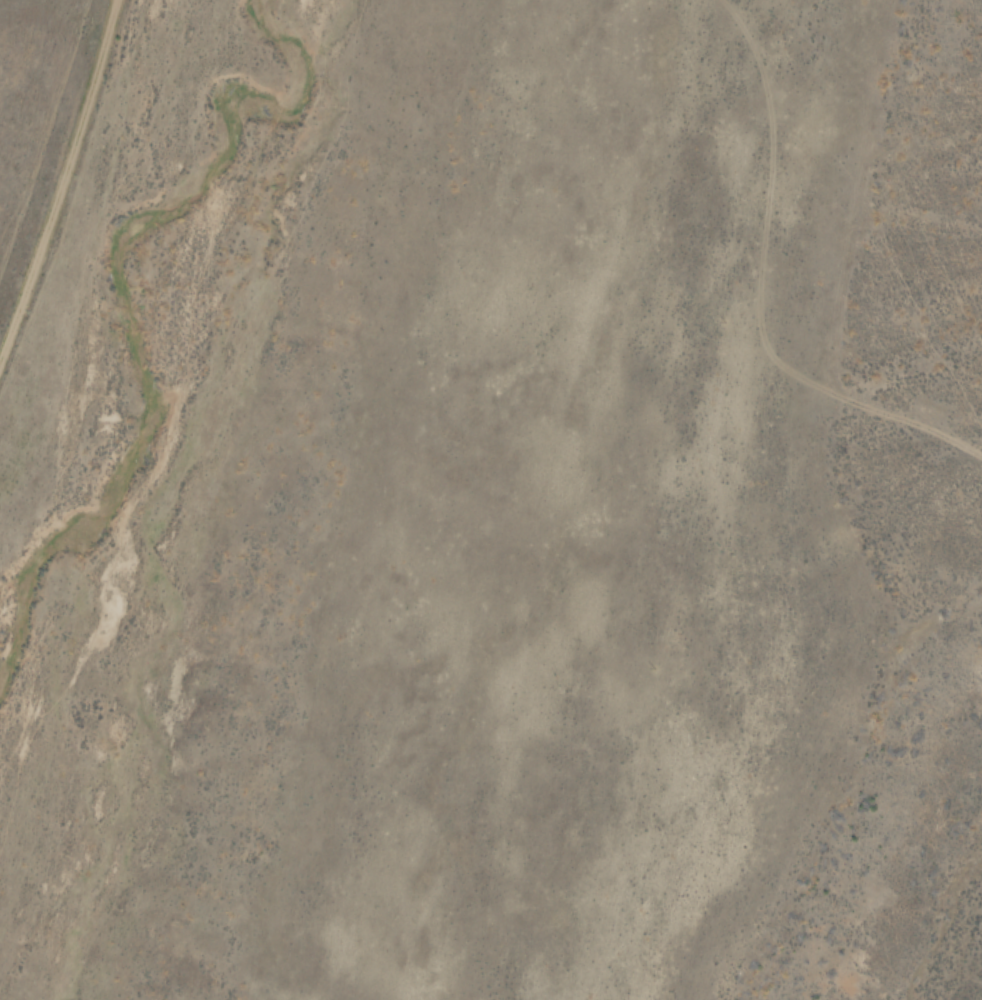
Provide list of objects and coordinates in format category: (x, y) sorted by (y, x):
road: (50, 167)

